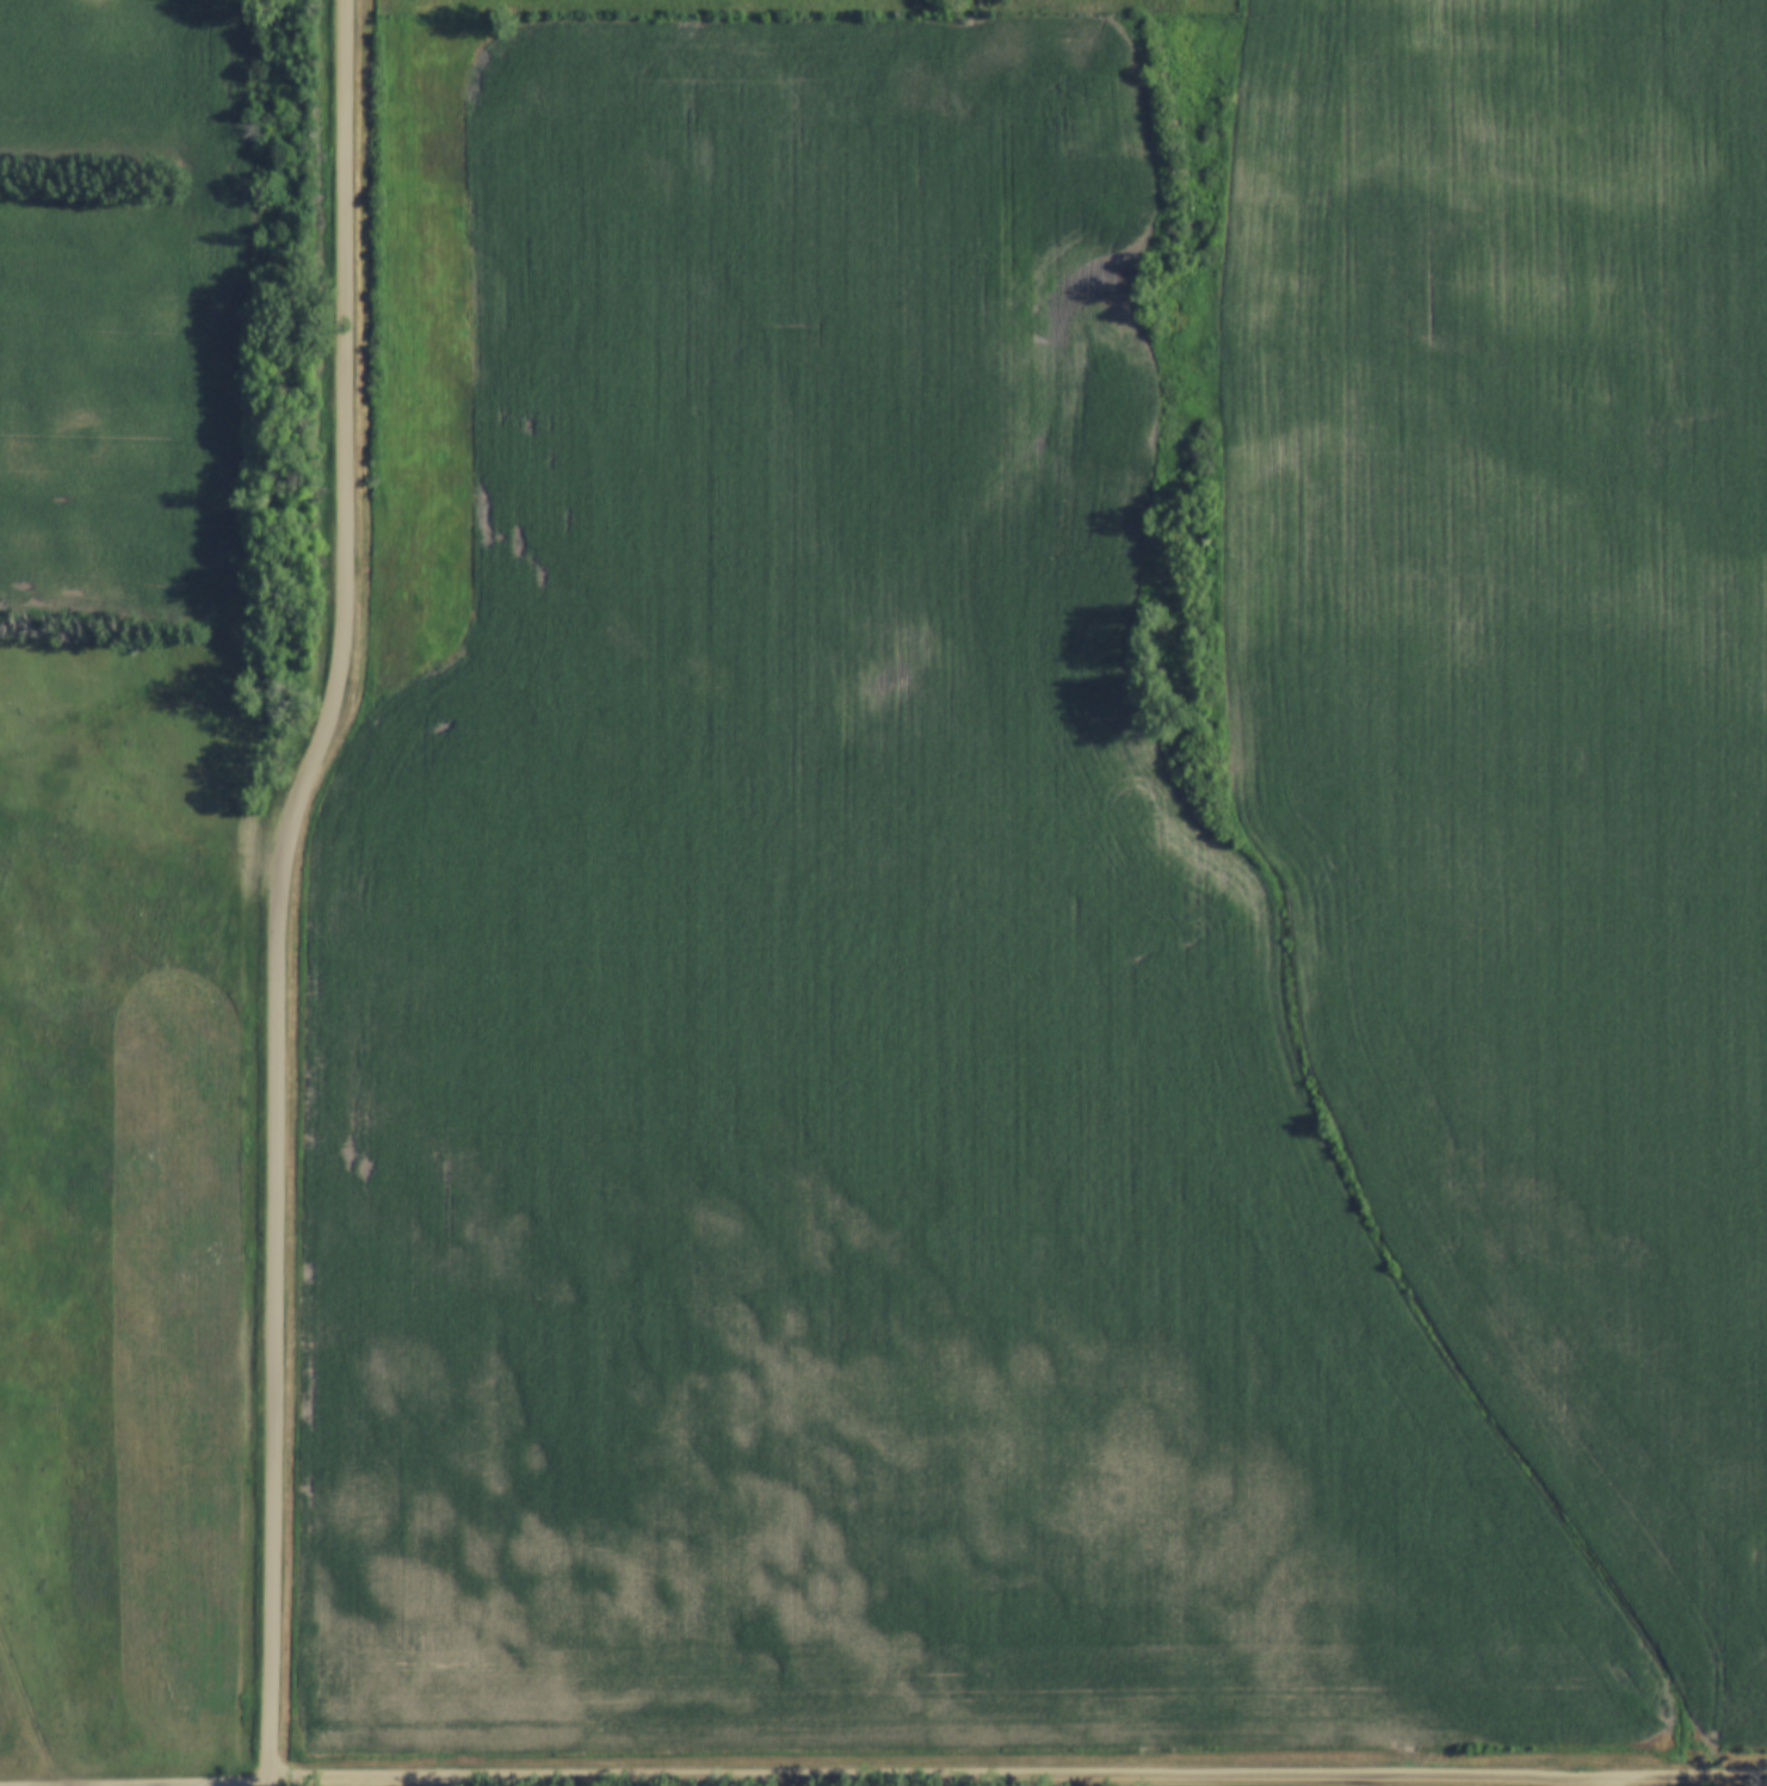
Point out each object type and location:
road: (286, 888)
road: (1017, 1779)
road: (162, 1784)
road: (1592, 1784)

